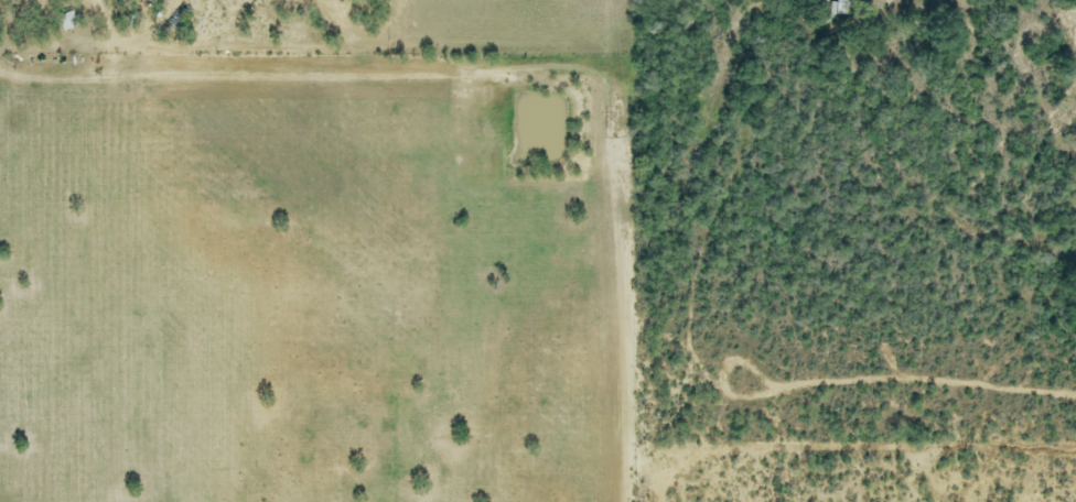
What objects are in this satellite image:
building: (839, 8)
road: (107, 19)
power tower: (611, 137)
road: (975, 251)

